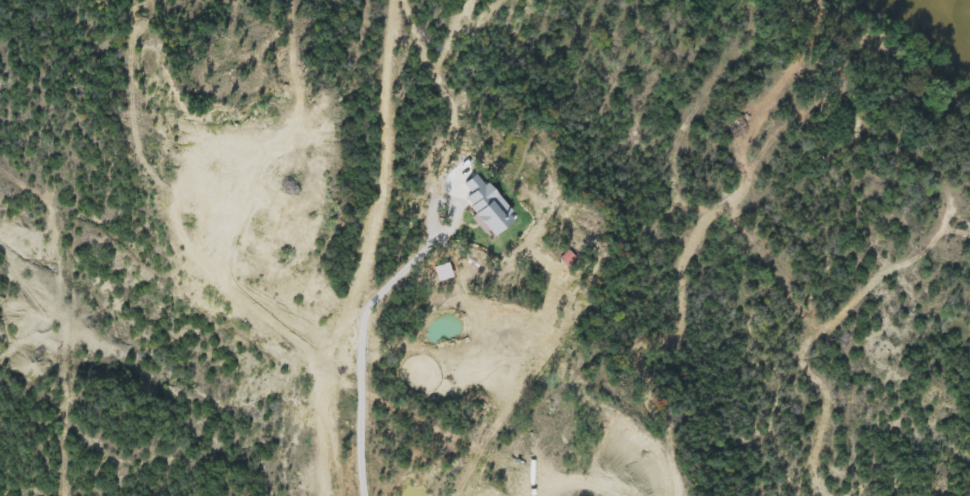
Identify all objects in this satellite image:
river: (926, 30)
road: (448, 207)
road: (362, 351)

